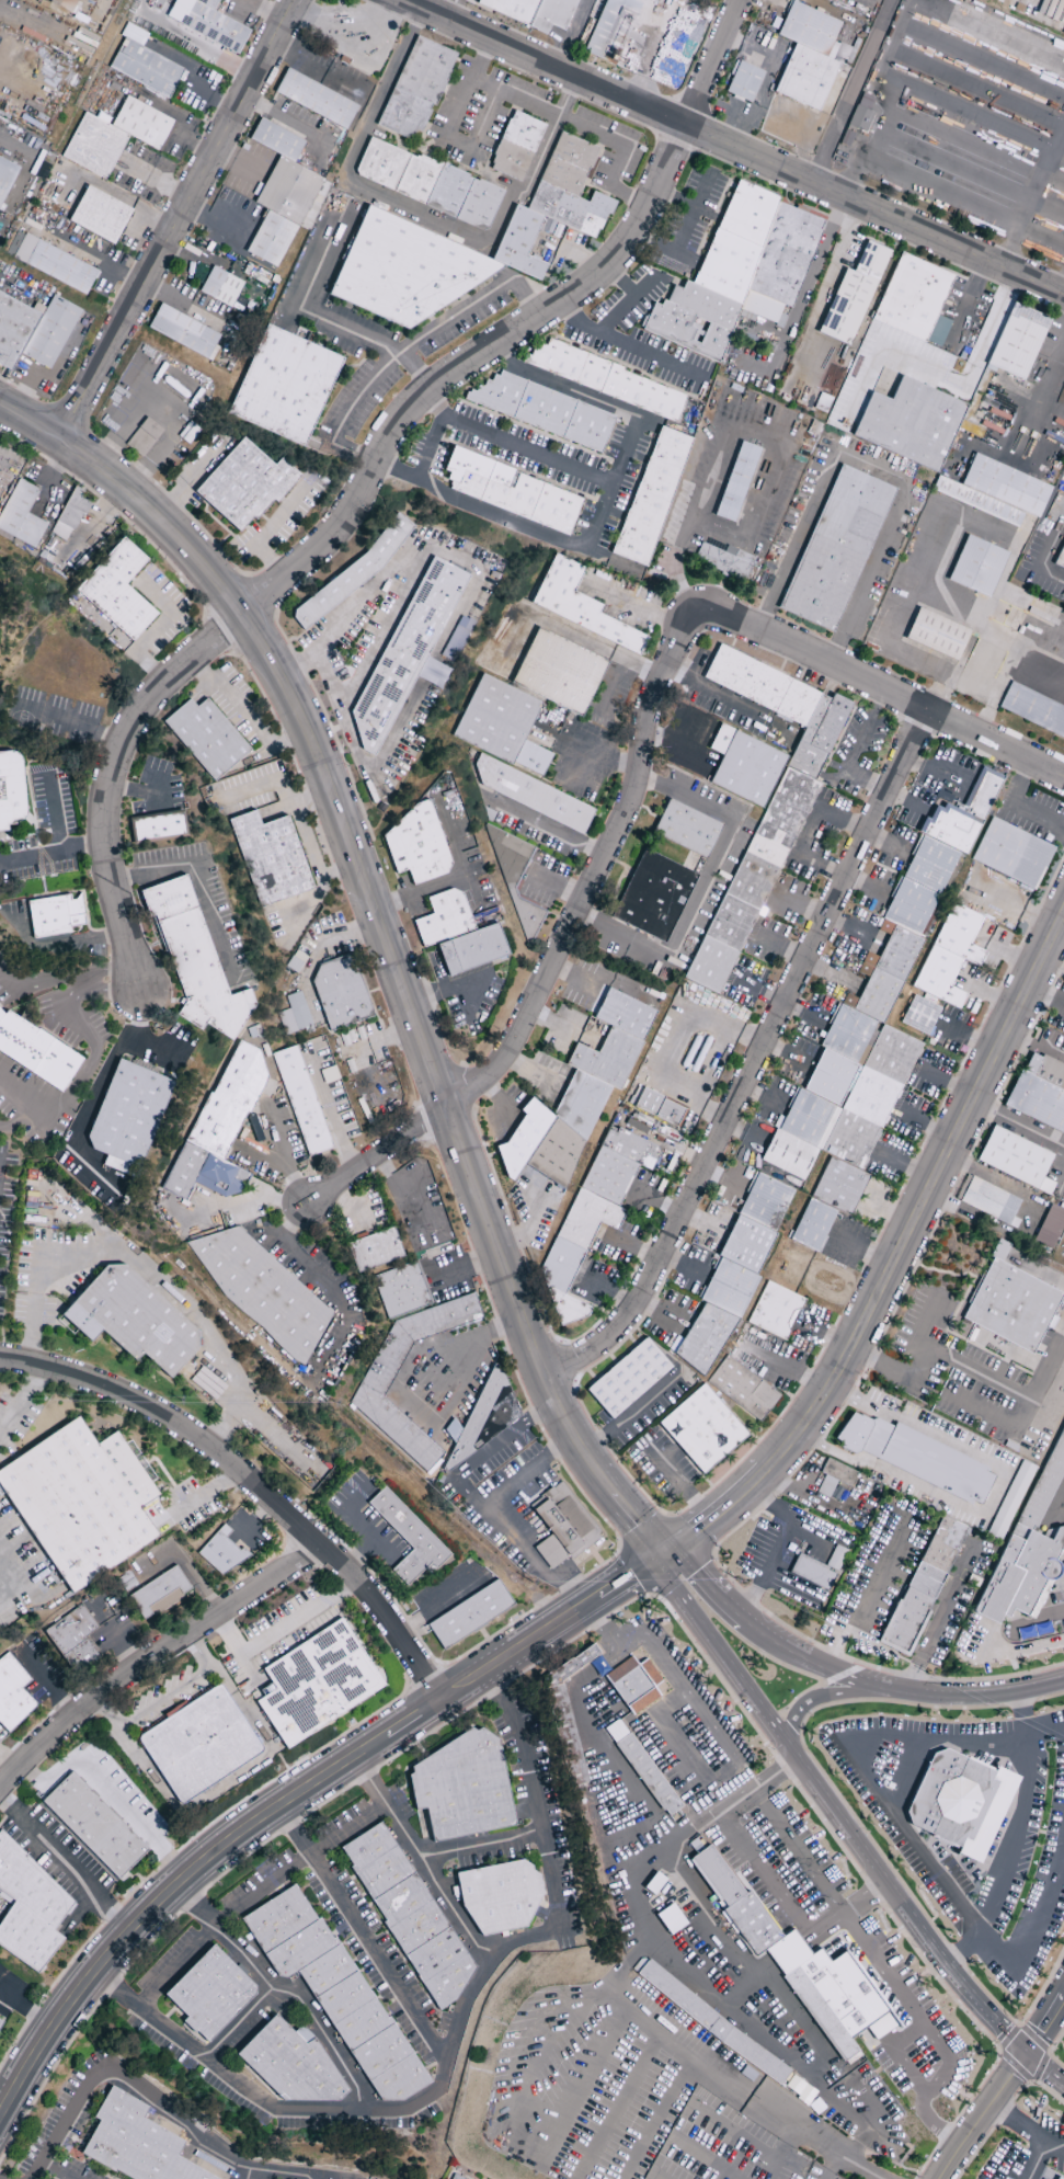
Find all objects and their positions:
building: (50, 0)
building: (60, 2)
building: (533, 12)
building: (207, 23)
building: (608, 27)
building: (808, 56)
building: (142, 64)
road: (714, 64)
building: (743, 82)
building: (415, 88)
road: (851, 91)
building: (314, 99)
building: (861, 114)
building: (141, 123)
building: (93, 146)
building: (516, 146)
road: (482, 147)
road: (732, 148)
road: (619, 155)
building: (5, 175)
building: (427, 183)
road: (945, 186)
building: (279, 195)
road: (400, 204)
road: (694, 205)
road: (1040, 209)
building: (748, 214)
building: (100, 215)
road: (176, 220)
building: (461, 246)
road: (674, 248)
road: (821, 251)
building: (787, 254)
building: (54, 264)
road: (832, 265)
building: (727, 266)
building: (220, 286)
building: (854, 294)
building: (912, 297)
road: (456, 313)
road: (611, 317)
building: (694, 321)
building: (34, 330)
building: (183, 331)
building: (1019, 344)
road: (649, 355)
building: (609, 380)
building: (284, 386)
road: (1037, 393)
building: (545, 411)
road: (342, 417)
building: (911, 424)
building: (142, 437)
road: (430, 444)
road: (515, 444)
road: (870, 469)
building: (737, 483)
building: (244, 484)
building: (1007, 487)
building: (513, 492)
building: (653, 497)
building: (979, 503)
road: (600, 511)
building: (20, 515)
building: (69, 515)
road: (334, 534)
road: (1052, 541)
building: (837, 549)
building: (1060, 559)
building: (724, 561)
building: (979, 568)
building: (353, 573)
road: (1052, 573)
building: (117, 590)
road: (394, 607)
building: (582, 608)
building: (938, 637)
building: (408, 651)
building: (559, 672)
road: (891, 695)
building: (1033, 710)
building: (501, 725)
road: (865, 728)
building: (206, 737)
building: (744, 766)
road: (863, 782)
building: (11, 789)
road: (135, 790)
building: (531, 795)
building: (766, 801)
road: (1019, 809)
building: (157, 826)
building: (686, 829)
road: (550, 831)
road: (809, 831)
road: (886, 842)
road: (59, 845)
building: (415, 846)
road: (82, 849)
building: (1010, 854)
building: (270, 858)
road: (199, 879)
building: (516, 882)
road: (703, 885)
road: (865, 886)
road: (367, 887)
road: (421, 890)
building: (653, 895)
building: (55, 915)
building: (458, 934)
road: (563, 944)
building: (949, 955)
road: (1015, 956)
building: (194, 959)
road: (67, 978)
building: (340, 991)
road: (988, 996)
building: (294, 1015)
building: (919, 1015)
building: (872, 1024)
road: (159, 1045)
building: (36, 1052)
road: (755, 1062)
road: (79, 1079)
road: (100, 1088)
building: (1039, 1093)
building: (576, 1096)
building: (301, 1100)
building: (656, 1107)
building: (127, 1117)
road: (15, 1119)
road: (1017, 1125)
building: (219, 1126)
road: (285, 1156)
building: (1016, 1159)
building: (988, 1201)
road: (243, 1202)
building: (592, 1214)
building: (812, 1225)
building: (1050, 1227)
building: (745, 1245)
building: (374, 1250)
road: (894, 1258)
road: (1038, 1271)
road: (38, 1273)
road: (318, 1277)
building: (262, 1290)
building: (401, 1290)
building: (1011, 1305)
road: (187, 1310)
building: (774, 1311)
building: (133, 1319)
building: (703, 1338)
building: (386, 1364)
road: (918, 1368)
building: (628, 1379)
building: (742, 1389)
road: (1012, 1390)
road: (21, 1401)
road: (631, 1417)
road: (424, 1423)
road: (225, 1427)
building: (702, 1428)
road: (497, 1444)
building: (916, 1458)
road: (529, 1476)
building: (833, 1478)
road: (602, 1480)
road: (255, 1484)
building: (1044, 1487)
road: (1063, 1491)
road: (204, 1494)
building: (1009, 1501)
building: (80, 1502)
road: (769, 1504)
road: (623, 1509)
building: (1020, 1532)
building: (407, 1538)
road: (650, 1540)
building: (943, 1544)
road: (773, 1548)
building: (1011, 1550)
building: (1063, 1550)
road: (523, 1551)
building: (220, 1552)
traffic signals: (663, 1555)
building: (836, 1558)
building: (1036, 1570)
building: (812, 1573)
building: (927, 1581)
road: (620, 1583)
road: (708, 1589)
building: (999, 1589)
building: (159, 1594)
road: (869, 1598)
building: (470, 1615)
road: (940, 1619)
road: (1038, 1619)
building: (906, 1622)
road: (709, 1627)
road: (282, 1629)
road: (983, 1636)
building: (72, 1639)
road: (1020, 1650)
road: (152, 1658)
building: (569, 1667)
building: (316, 1684)
building: (634, 1685)
road: (901, 1692)
building: (12, 1695)
road: (165, 1696)
road: (816, 1701)
road: (1025, 1714)
building: (614, 1733)
building: (565, 1735)
building: (198, 1744)
building: (648, 1775)
road: (907, 1776)
road: (231, 1782)
building: (461, 1788)
road: (111, 1794)
road: (705, 1795)
building: (958, 1800)
building: (674, 1816)
road: (712, 1818)
road: (896, 1819)
building: (93, 1826)
road: (250, 1827)
road: (479, 1843)
road: (422, 1859)
road: (1011, 1860)
road: (66, 1864)
building: (718, 1875)
building: (791, 1876)
road: (885, 1881)
road: (256, 1894)
building: (499, 1898)
building: (773, 1902)
building: (805, 1903)
building: (31, 1909)
building: (408, 1913)
road: (838, 1917)
building: (753, 1924)
road: (362, 1935)
road: (645, 1937)
road: (637, 1955)
road: (781, 1958)
building: (810, 1966)
road: (744, 1983)
building: (332, 1987)
road: (283, 1992)
building: (209, 1994)
building: (831, 1994)
building: (811, 2000)
road: (28, 2011)
road: (238, 2023)
building: (711, 2023)
road: (1045, 2023)
road: (454, 2043)
traffic signals: (1028, 2054)
building: (290, 2064)
road: (1045, 2068)
parking lot: (602, 2078)
road: (1010, 2079)
road: (936, 2084)
road: (152, 2102)
road: (855, 2114)
road: (1028, 2126)
road: (965, 2141)
road: (823, 2142)
building: (133, 2143)
parking lot: (725, 2147)
road: (780, 2152)
road: (1038, 2159)
road: (831, 2165)
road: (1018, 2167)
road: (1000, 2169)
road: (54, 2171)
road: (254, 2174)
building: (1059, 2176)
building: (454, 2177)

